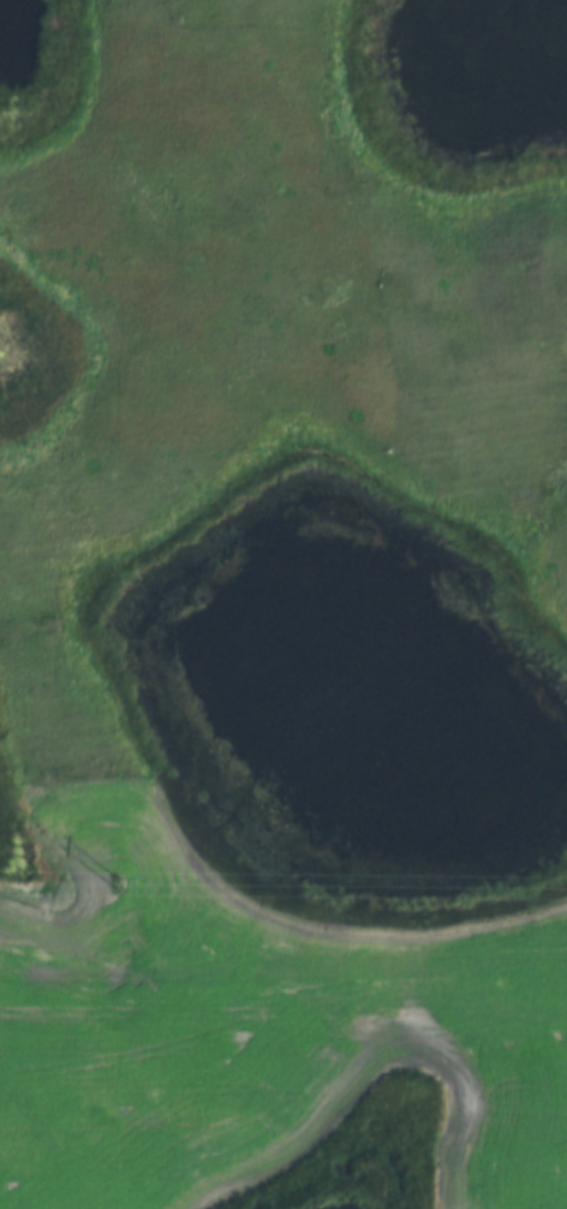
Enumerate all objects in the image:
power tower: (113, 885)

